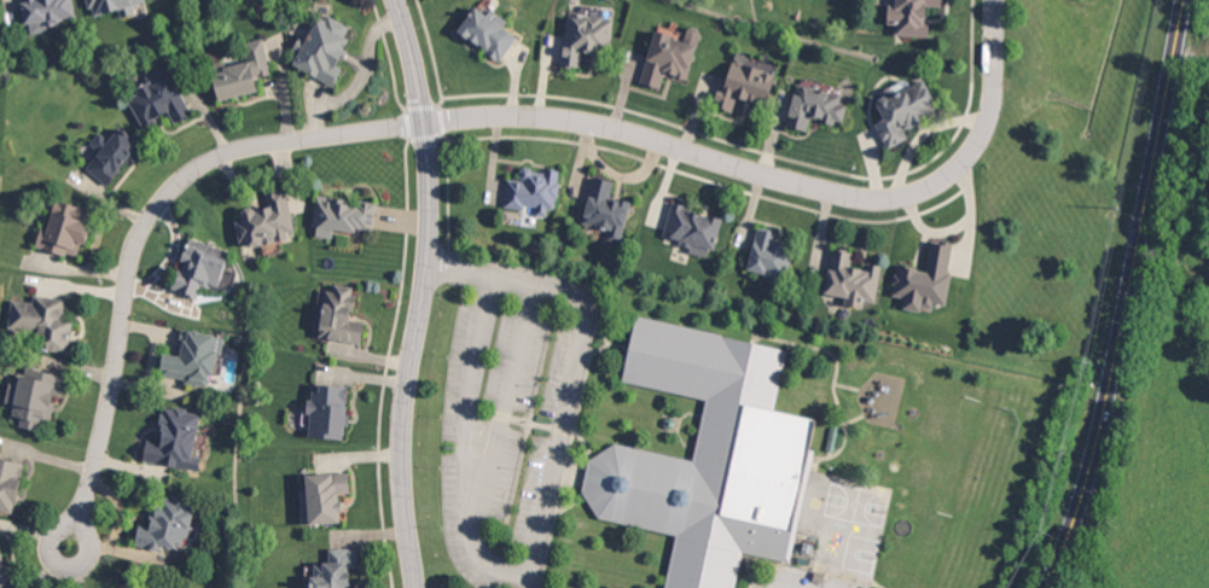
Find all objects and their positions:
building: (112, 6)
building: (46, 13)
building: (914, 14)
building: (493, 30)
building: (587, 36)
building: (325, 48)
building: (675, 54)
building: (245, 72)
building: (749, 81)
building: (161, 100)
building: (816, 104)
building: (906, 107)
road: (402, 123)
building: (115, 153)
road: (781, 175)
road: (407, 187)
building: (534, 190)
building: (609, 209)
building: (345, 215)
building: (268, 220)
building: (70, 227)
building: (697, 227)
road: (139, 237)
building: (204, 266)
building: (854, 276)
building: (928, 279)
road: (428, 292)
road: (1126, 297)
building: (337, 315)
building: (45, 320)
road: (390, 345)
building: (197, 356)
road: (574, 367)
road: (508, 390)
building: (35, 396)
building: (329, 408)
building: (180, 439)
road: (465, 439)
building: (710, 455)
building: (7, 487)
building: (322, 491)
road: (383, 524)
building: (169, 525)
road: (54, 564)
building: (332, 566)
building: (2, 569)
road: (803, 581)
building: (146, 586)

